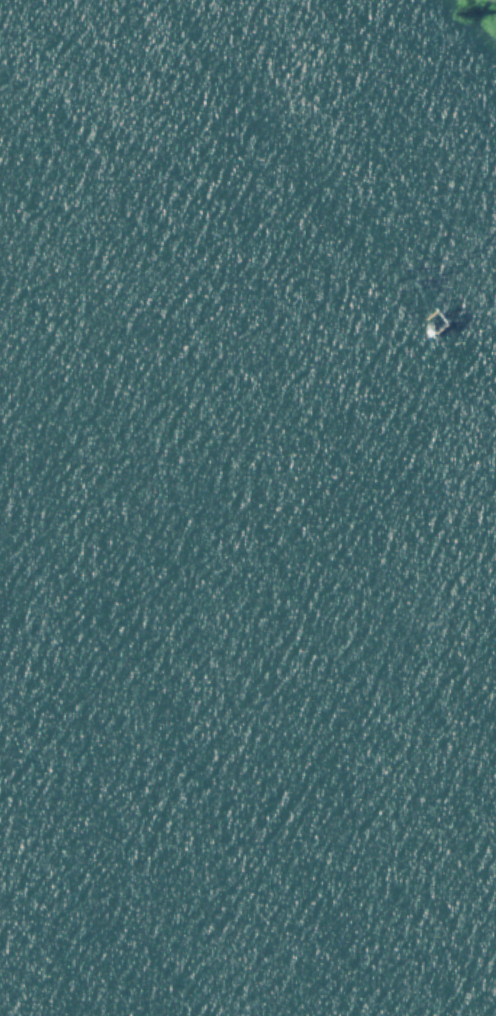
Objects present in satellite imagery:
river: (29, 982)

